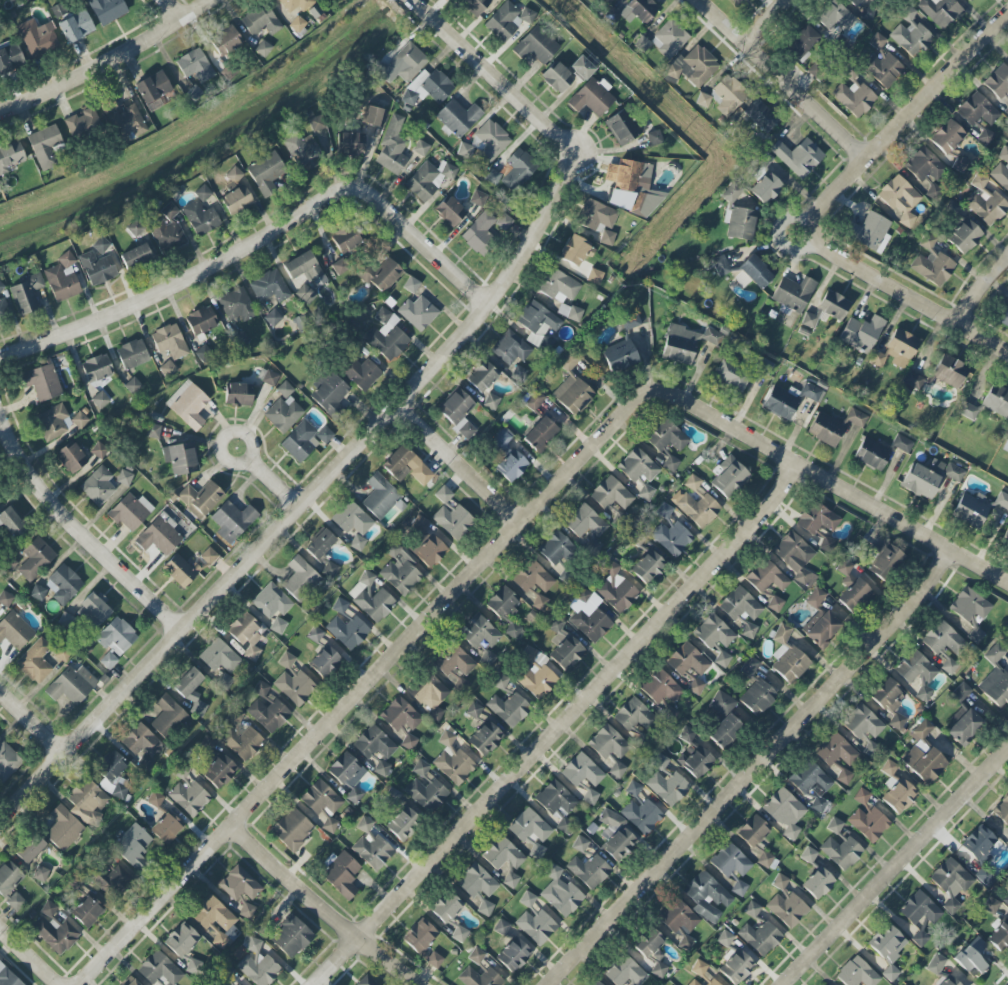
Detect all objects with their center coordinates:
building: (500, 0)
building: (872, 0)
building: (607, 1)
building: (734, 1)
building: (971, 1)
building: (855, 2)
building: (296, 4)
building: (475, 5)
building: (0, 6)
building: (107, 10)
road: (170, 10)
building: (638, 11)
building: (940, 11)
building: (835, 17)
building: (260, 21)
building: (507, 21)
road: (767, 21)
building: (298, 24)
building: (76, 27)
building: (910, 34)
building: (38, 38)
building: (669, 39)
building: (226, 41)
building: (802, 42)
building: (536, 46)
building: (264, 48)
building: (9, 57)
road: (108, 62)
building: (407, 62)
building: (883, 64)
building: (195, 66)
building: (691, 67)
building: (581, 68)
building: (381, 71)
road: (498, 76)
building: (557, 77)
road: (787, 78)
building: (998, 82)
building: (427, 88)
building: (153, 91)
building: (728, 93)
building: (194, 94)
building: (592, 97)
building: (854, 98)
building: (977, 110)
building: (1006, 110)
building: (375, 116)
building: (760, 116)
building: (457, 118)
building: (82, 123)
building: (127, 123)
road: (906, 124)
building: (621, 127)
building: (985, 136)
building: (947, 137)
building: (490, 141)
building: (351, 144)
building: (45, 146)
building: (392, 147)
building: (421, 148)
building: (303, 152)
building: (1004, 154)
building: (11, 157)
building: (798, 157)
building: (924, 165)
building: (517, 168)
building: (265, 173)
building: (234, 175)
building: (780, 175)
building: (1000, 175)
building: (428, 179)
building: (628, 182)
building: (766, 188)
building: (202, 193)
building: (731, 193)
building: (477, 198)
building: (900, 199)
building: (237, 200)
building: (986, 205)
building: (450, 211)
building: (596, 215)
building: (200, 219)
building: (503, 222)
building: (740, 222)
building: (135, 228)
building: (168, 231)
road: (777, 232)
building: (873, 232)
building: (479, 233)
building: (964, 236)
building: (338, 238)
building: (350, 244)
road: (421, 245)
building: (135, 256)
building: (932, 263)
building: (98, 264)
building: (720, 266)
building: (339, 267)
building: (305, 269)
building: (755, 272)
building: (380, 274)
building: (595, 276)
building: (62, 278)
road: (181, 282)
building: (558, 286)
building: (269, 287)
road: (980, 289)
building: (793, 293)
building: (26, 294)
building: (305, 294)
road: (907, 294)
building: (236, 305)
building: (833, 305)
building: (418, 313)
building: (273, 318)
building: (810, 319)
building: (1004, 319)
building: (201, 321)
building: (538, 324)
building: (627, 324)
building: (861, 333)
building: (386, 336)
building: (240, 339)
building: (170, 342)
building: (685, 343)
building: (510, 348)
building: (896, 350)
building: (132, 354)
building: (620, 356)
building: (168, 369)
building: (98, 372)
building: (949, 372)
building: (361, 373)
building: (482, 376)
building: (730, 376)
building: (268, 378)
building: (912, 381)
building: (42, 382)
building: (132, 385)
building: (572, 387)
building: (284, 390)
building: (811, 392)
building: (329, 394)
building: (238, 395)
building: (100, 400)
building: (533, 400)
building: (491, 401)
building: (996, 401)
building: (780, 403)
building: (188, 405)
building: (456, 407)
building: (967, 410)
building: (284, 414)
building: (79, 420)
building: (53, 422)
building: (833, 426)
building: (153, 431)
building: (540, 434)
building: (502, 438)
building: (303, 440)
building: (667, 442)
building: (902, 444)
building: (1005, 445)
building: (99, 451)
building: (871, 455)
building: (71, 458)
building: (181, 458)
road: (239, 464)
building: (406, 466)
road: (456, 466)
building: (511, 466)
building: (637, 466)
building: (954, 472)
building: (124, 478)
building: (730, 478)
building: (923, 479)
building: (692, 483)
road: (835, 483)
road: (274, 485)
building: (98, 486)
building: (646, 493)
building: (611, 494)
building: (380, 496)
building: (200, 498)
building: (1002, 500)
road: (307, 501)
building: (696, 508)
building: (664, 511)
building: (970, 511)
building: (130, 512)
building: (450, 515)
building: (352, 519)
building: (817, 519)
building: (232, 521)
building: (585, 522)
building: (12, 523)
road: (79, 534)
building: (159, 537)
building: (1005, 537)
building: (671, 538)
building: (320, 544)
building: (592, 544)
building: (827, 544)
building: (556, 548)
building: (430, 553)
building: (209, 555)
building: (795, 557)
building: (35, 559)
building: (885, 562)
building: (648, 567)
building: (330, 569)
building: (181, 570)
building: (401, 571)
building: (766, 577)
building: (532, 578)
building: (300, 579)
building: (63, 584)
building: (616, 588)
building: (852, 589)
building: (37, 593)
building: (583, 596)
building: (371, 597)
building: (815, 598)
building: (5, 599)
building: (272, 601)
building: (502, 602)
building: (540, 604)
building: (775, 604)
building: (740, 605)
building: (969, 605)
building: (339, 606)
building: (93, 611)
building: (66, 620)
building: (591, 623)
building: (821, 628)
building: (15, 630)
building: (515, 631)
building: (749, 631)
building: (348, 632)
building: (479, 632)
building: (246, 634)
building: (315, 635)
building: (117, 637)
building: (715, 637)
building: (943, 639)
building: (564, 646)
building: (995, 654)
building: (219, 656)
building: (787, 656)
building: (488, 658)
building: (108, 660)
building: (687, 660)
building: (35, 661)
building: (325, 663)
building: (455, 665)
building: (749, 667)
building: (949, 667)
building: (915, 668)
building: (536, 674)
building: (225, 681)
building: (500, 681)
road: (369, 684)
building: (72, 685)
building: (696, 687)
building: (996, 687)
building: (261, 689)
building: (191, 690)
building: (662, 692)
building: (924, 692)
building: (960, 692)
building: (759, 695)
building: (888, 695)
building: (432, 697)
building: (721, 703)
building: (508, 709)
building: (474, 710)
building: (631, 714)
building: (269, 715)
building: (400, 715)
building: (168, 716)
building: (235, 717)
building: (897, 722)
road: (34, 723)
building: (862, 723)
road: (559, 724)
building: (965, 727)
building: (923, 729)
building: (725, 731)
building: (687, 735)
building: (484, 740)
building: (140, 741)
building: (242, 742)
building: (409, 742)
building: (374, 743)
building: (608, 743)
building: (207, 744)
building: (870, 749)
building: (836, 751)
building: (452, 760)
building: (8, 762)
building: (660, 762)
building: (145, 763)
building: (698, 763)
building: (924, 764)
road: (751, 767)
building: (420, 768)
building: (889, 768)
building: (381, 769)
building: (617, 770)
building: (582, 771)
building: (219, 773)
building: (113, 775)
building: (348, 775)
building: (844, 776)
building: (810, 779)
building: (668, 787)
building: (633, 789)
building: (427, 794)
building: (392, 795)
building: (861, 796)
building: (899, 796)
building: (590, 797)
building: (189, 798)
building: (155, 799)
building: (321, 800)
building: (87, 802)
building: (557, 803)
building: (818, 805)
building: (1002, 811)
building: (785, 812)
building: (641, 815)
building: (403, 823)
building: (869, 824)
building: (330, 825)
building: (835, 826)
building: (63, 828)
building: (166, 828)
building: (292, 829)
building: (530, 831)
building: (752, 831)
building: (615, 835)
building: (1007, 843)
building: (580, 844)
building: (979, 844)
building: (132, 845)
building: (371, 846)
building: (30, 849)
building: (841, 852)
building: (502, 854)
building: (808, 855)
building: (765, 860)
building: (730, 861)
road: (895, 864)
building: (589, 870)
building: (41, 874)
building: (341, 874)
building: (9, 878)
building: (510, 880)
building: (77, 881)
building: (114, 882)
building: (476, 882)
building: (780, 882)
building: (818, 883)
building: (951, 883)
building: (239, 884)
building: (739, 888)
building: (560, 893)
building: (707, 896)
building: (527, 899)
building: (1006, 900)
building: (15, 902)
building: (992, 906)
building: (445, 907)
road: (332, 908)
building: (485, 908)
building: (48, 909)
building: (752, 909)
building: (787, 909)
building: (919, 909)
building: (87, 911)
building: (247, 911)
building: (216, 921)
building: (679, 921)
building: (536, 926)
building: (501, 927)
building: (55, 934)
building: (459, 934)
building: (419, 936)
building: (291, 937)
building: (1000, 937)
building: (725, 938)
building: (760, 938)
building: (920, 938)
building: (181, 940)
building: (253, 945)
building: (888, 948)
building: (651, 951)
road: (31, 953)
building: (513, 956)
building: (972, 956)
building: (434, 960)
building: (936, 964)
building: (194, 966)
building: (736, 967)
building: (699, 968)
building: (159, 969)
building: (258, 969)
building: (479, 972)
building: (625, 972)
building: (226, 973)
building: (857, 973)
building: (8, 977)
building: (366, 981)
building: (949, 981)
building: (130, 982)
building: (712, 982)
building: (230, 983)
building: (596, 983)
building: (693, 983)

